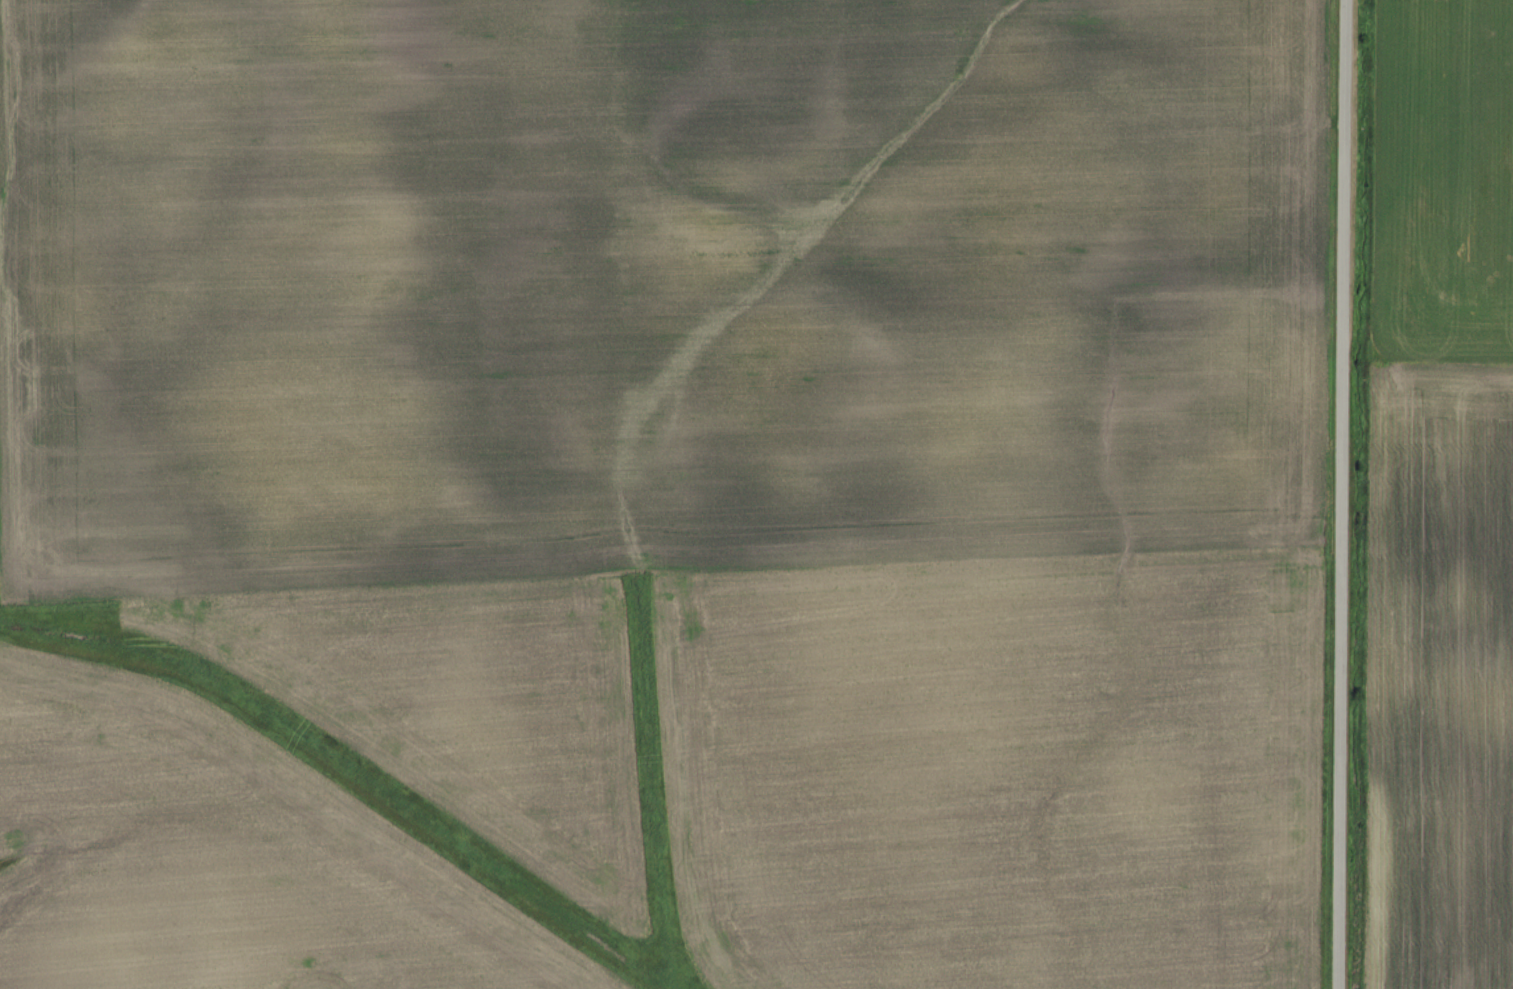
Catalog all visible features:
road: (1341, 494)

